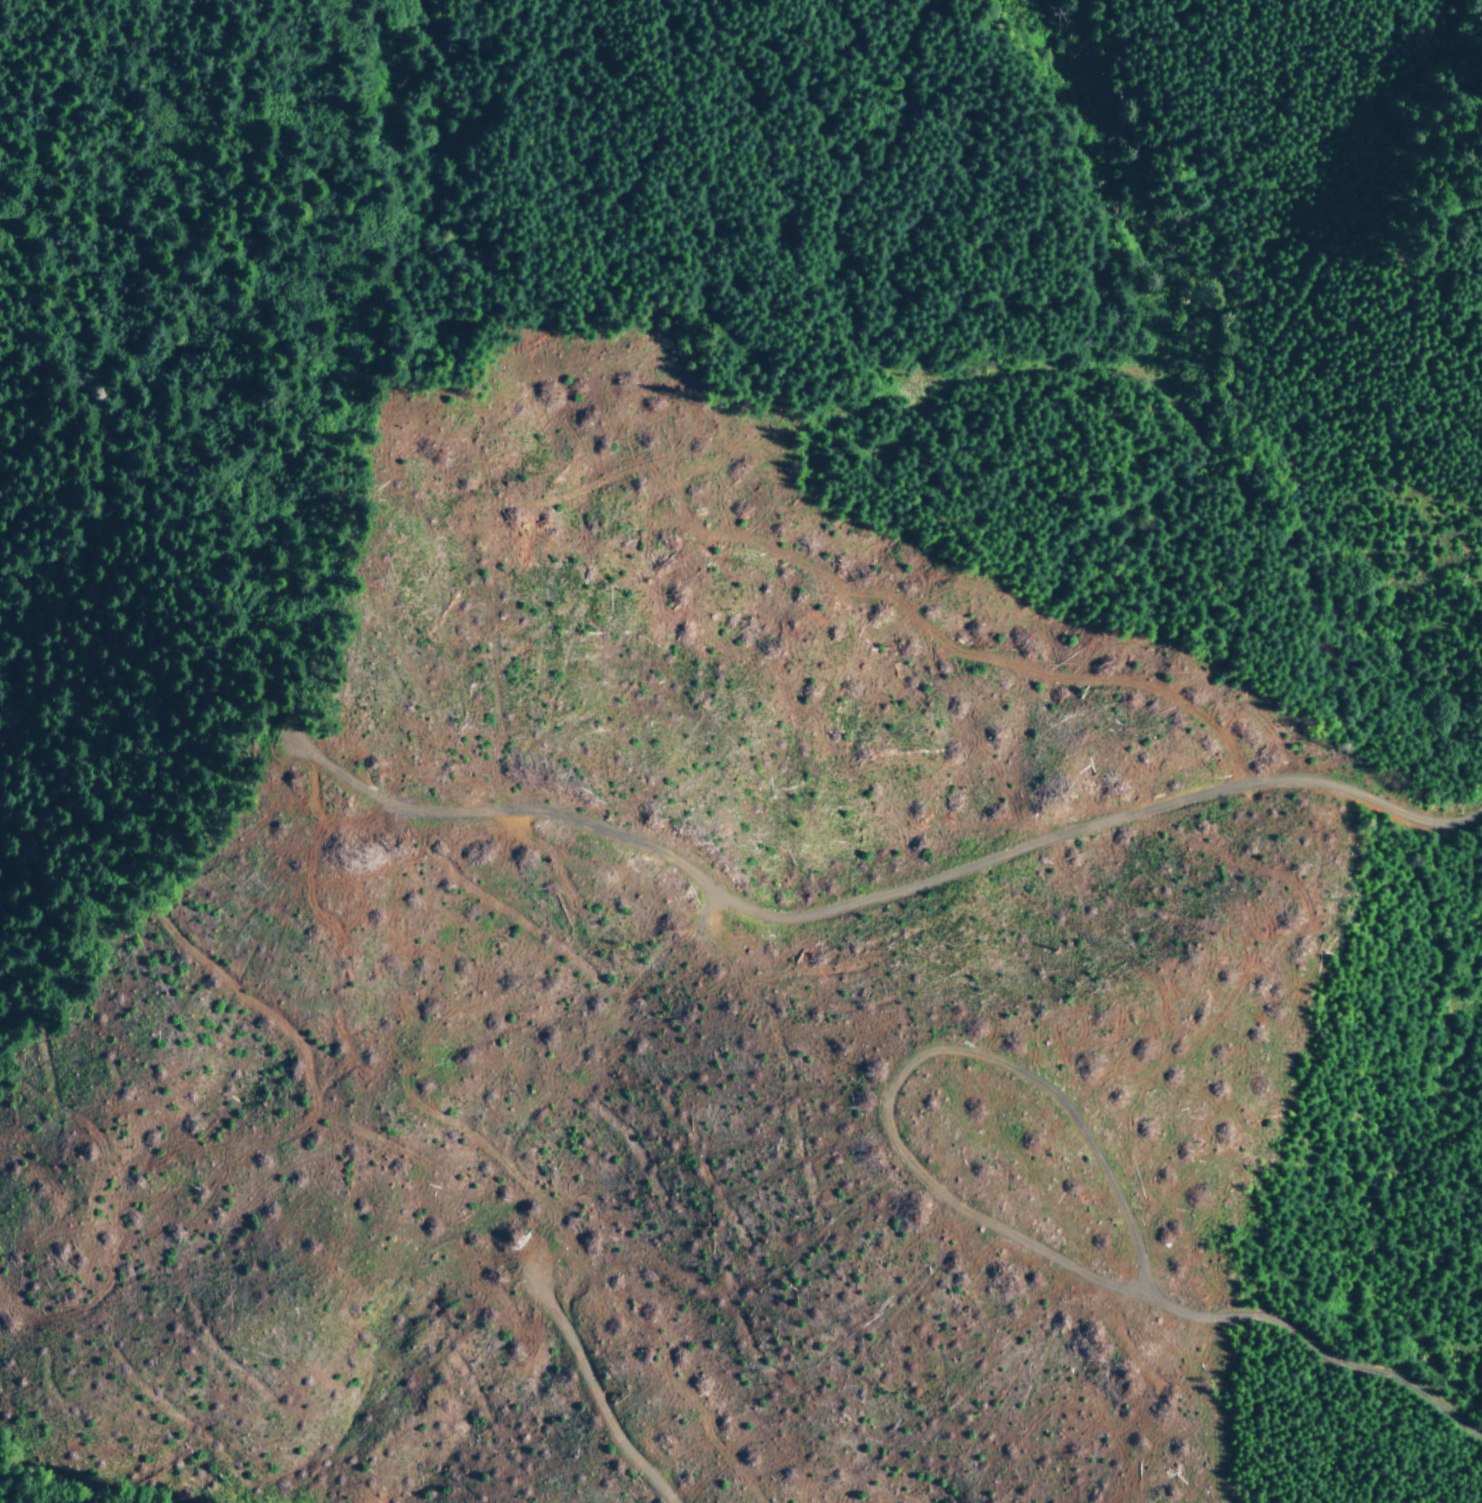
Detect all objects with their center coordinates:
road: (963, 164)
road: (1119, 1206)
road: (636, 1417)

